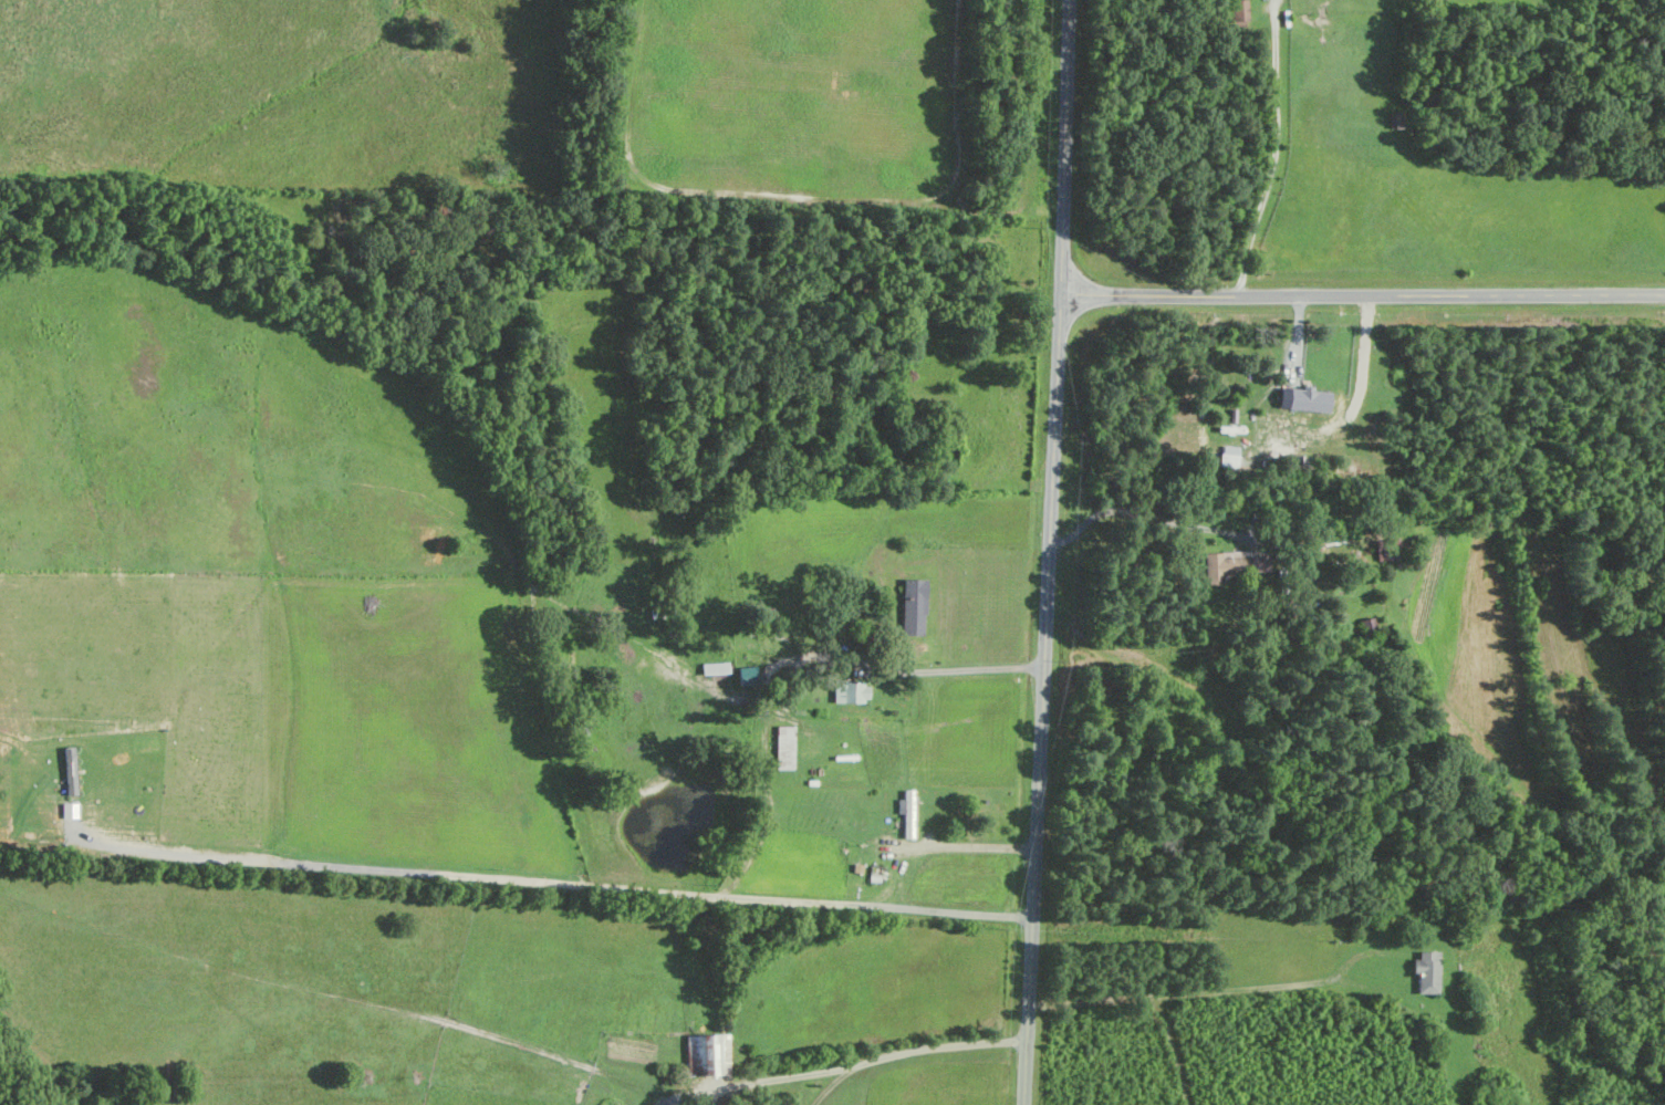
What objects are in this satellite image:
road: (1276, 152)
road: (1362, 296)
building: (1310, 398)
building: (1230, 456)
road: (1147, 515)
road: (1050, 552)
building: (1218, 557)
building: (915, 606)
road: (896, 665)
building: (716, 667)
building: (749, 675)
building: (852, 692)
building: (908, 813)
road: (970, 846)
road: (544, 877)
road: (1182, 993)
road: (937, 1046)
building: (721, 1055)
road: (773, 1078)
road: (830, 1086)

